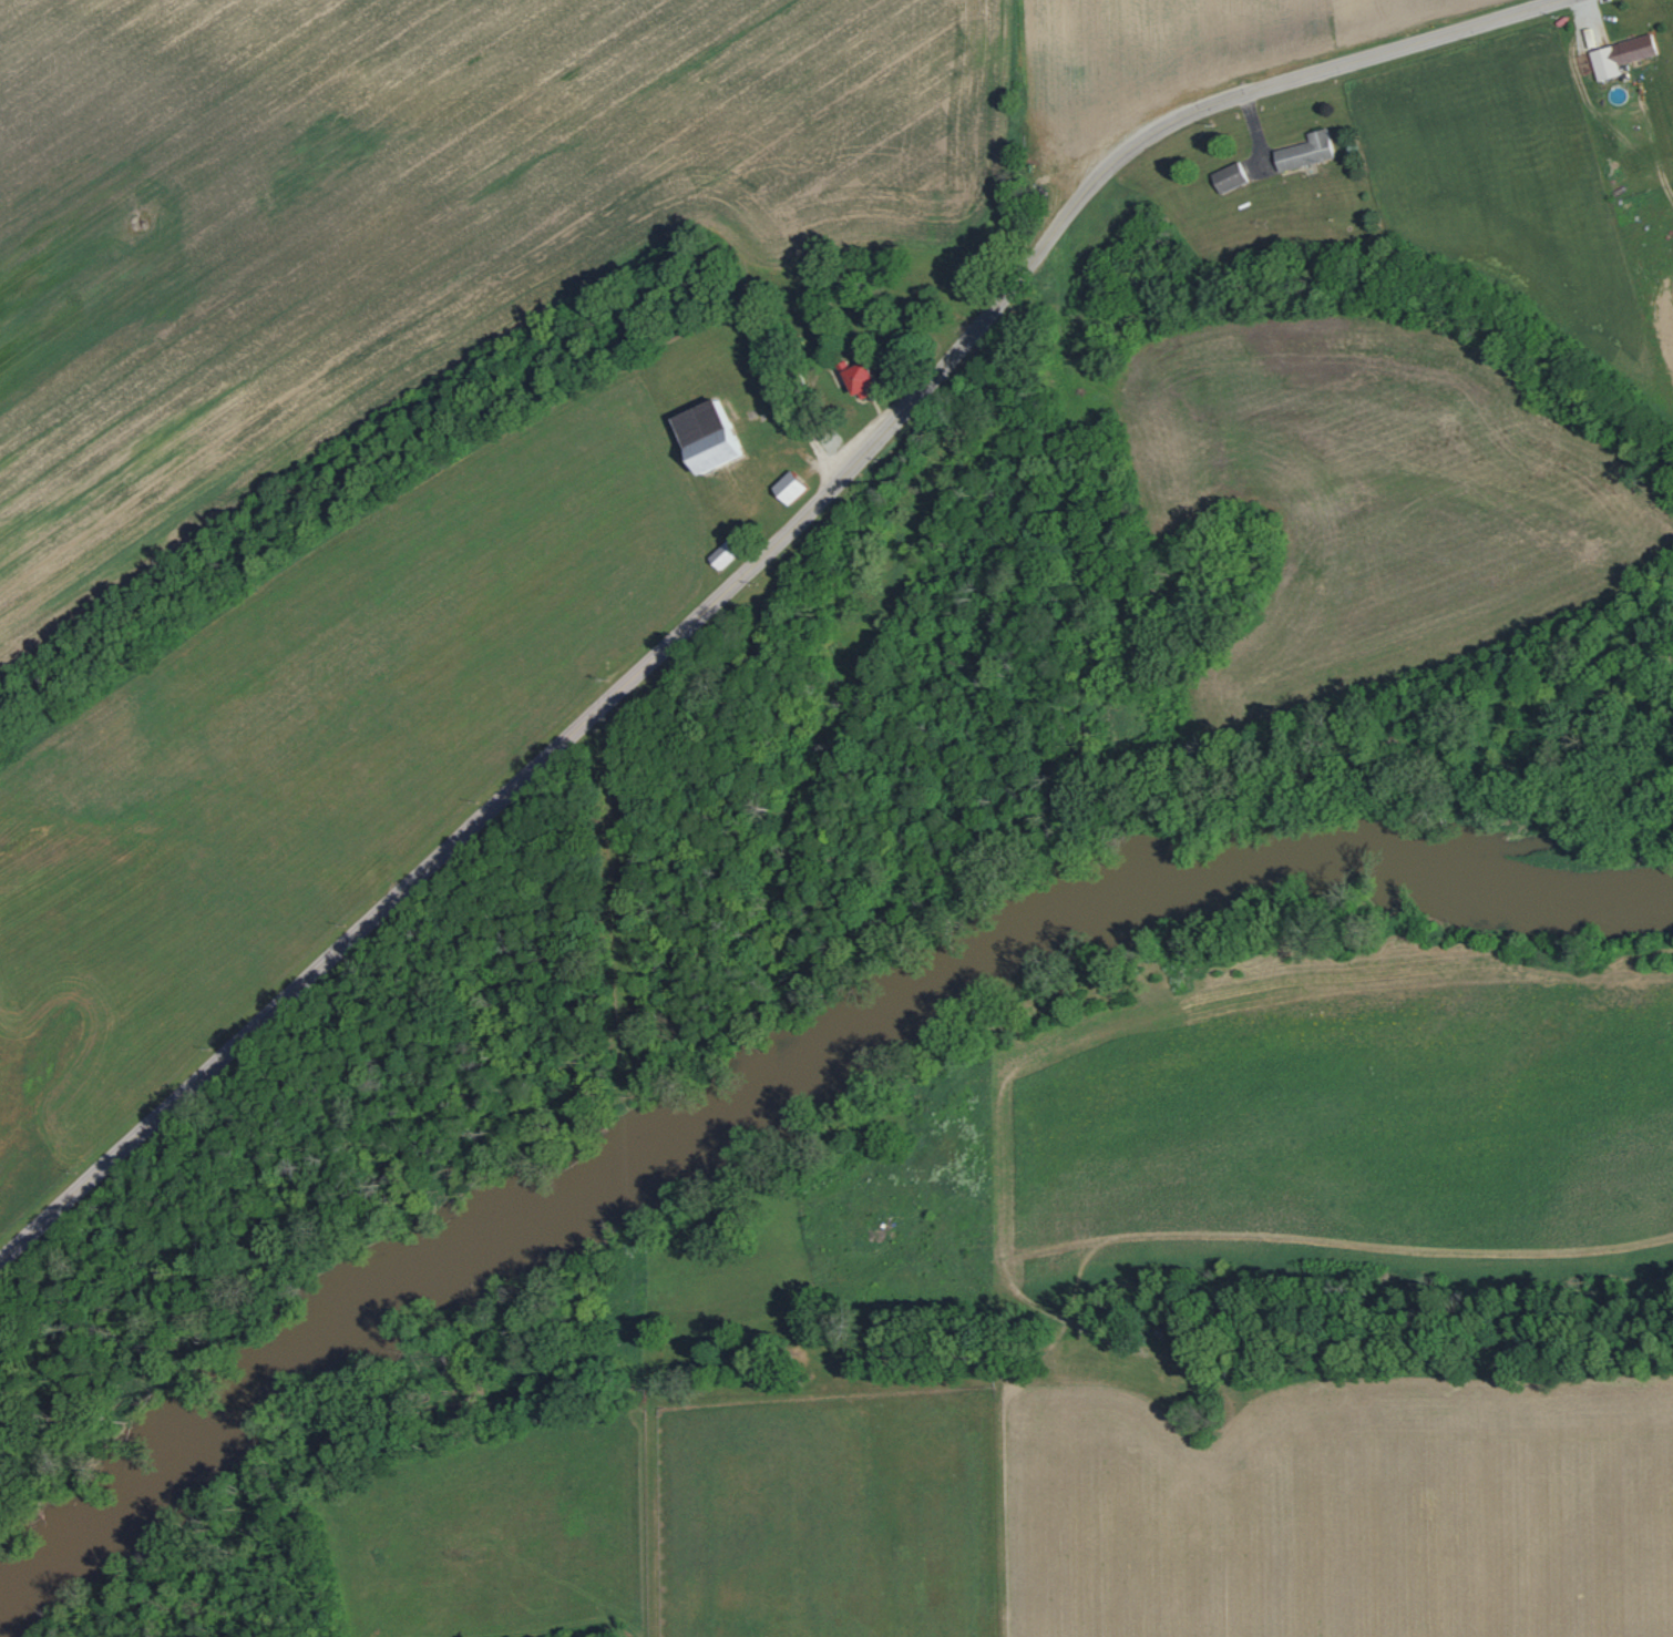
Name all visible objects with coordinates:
building: (1618, 55)
building: (1303, 152)
building: (1226, 177)
building: (858, 380)
building: (701, 437)
building: (786, 487)
building: (720, 554)
road: (748, 565)
river: (791, 1098)

